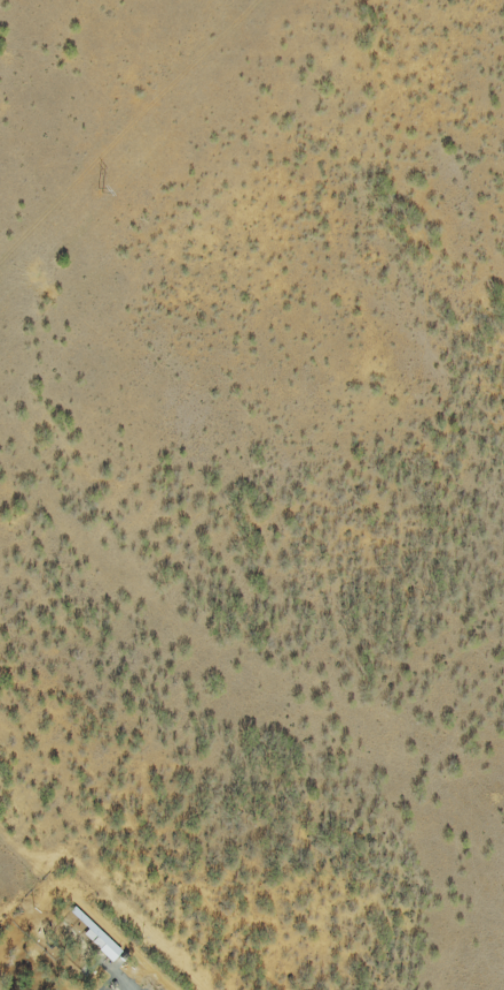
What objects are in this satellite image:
power tower: (99, 192)
road: (109, 908)

